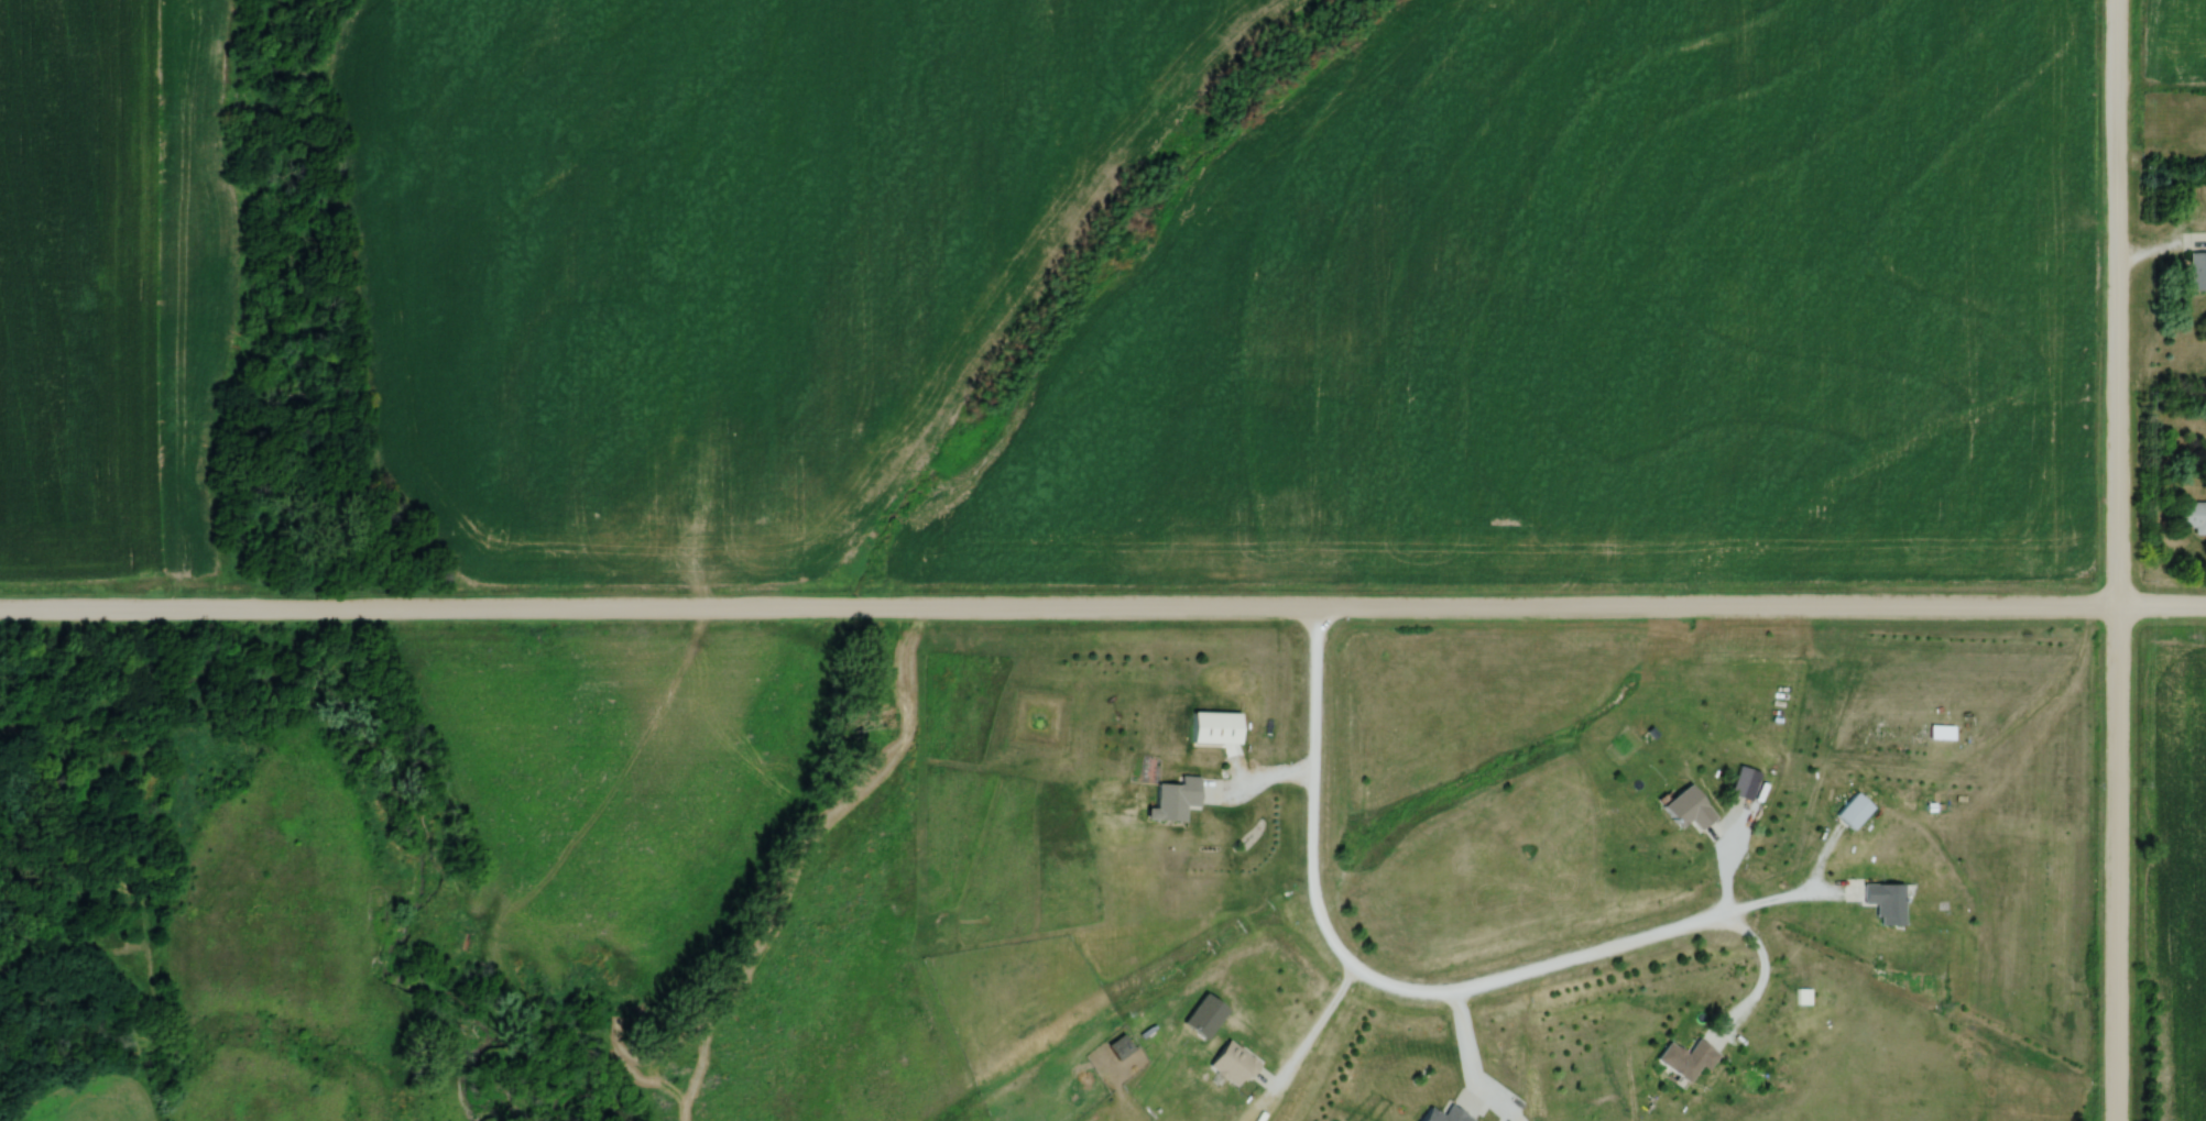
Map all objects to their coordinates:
building: (2197, 271)
building: (2189, 514)
road: (2117, 560)
road: (1103, 605)
building: (1215, 728)
road: (1254, 779)
building: (1745, 783)
building: (1175, 800)
building: (1689, 809)
building: (1854, 812)
road: (1727, 859)
road: (1792, 893)
building: (1886, 902)
road: (1357, 969)
road: (1761, 982)
road: (1315, 1030)
road: (1465, 1048)
building: (1686, 1059)
building: (1233, 1064)
building: (1446, 1115)

